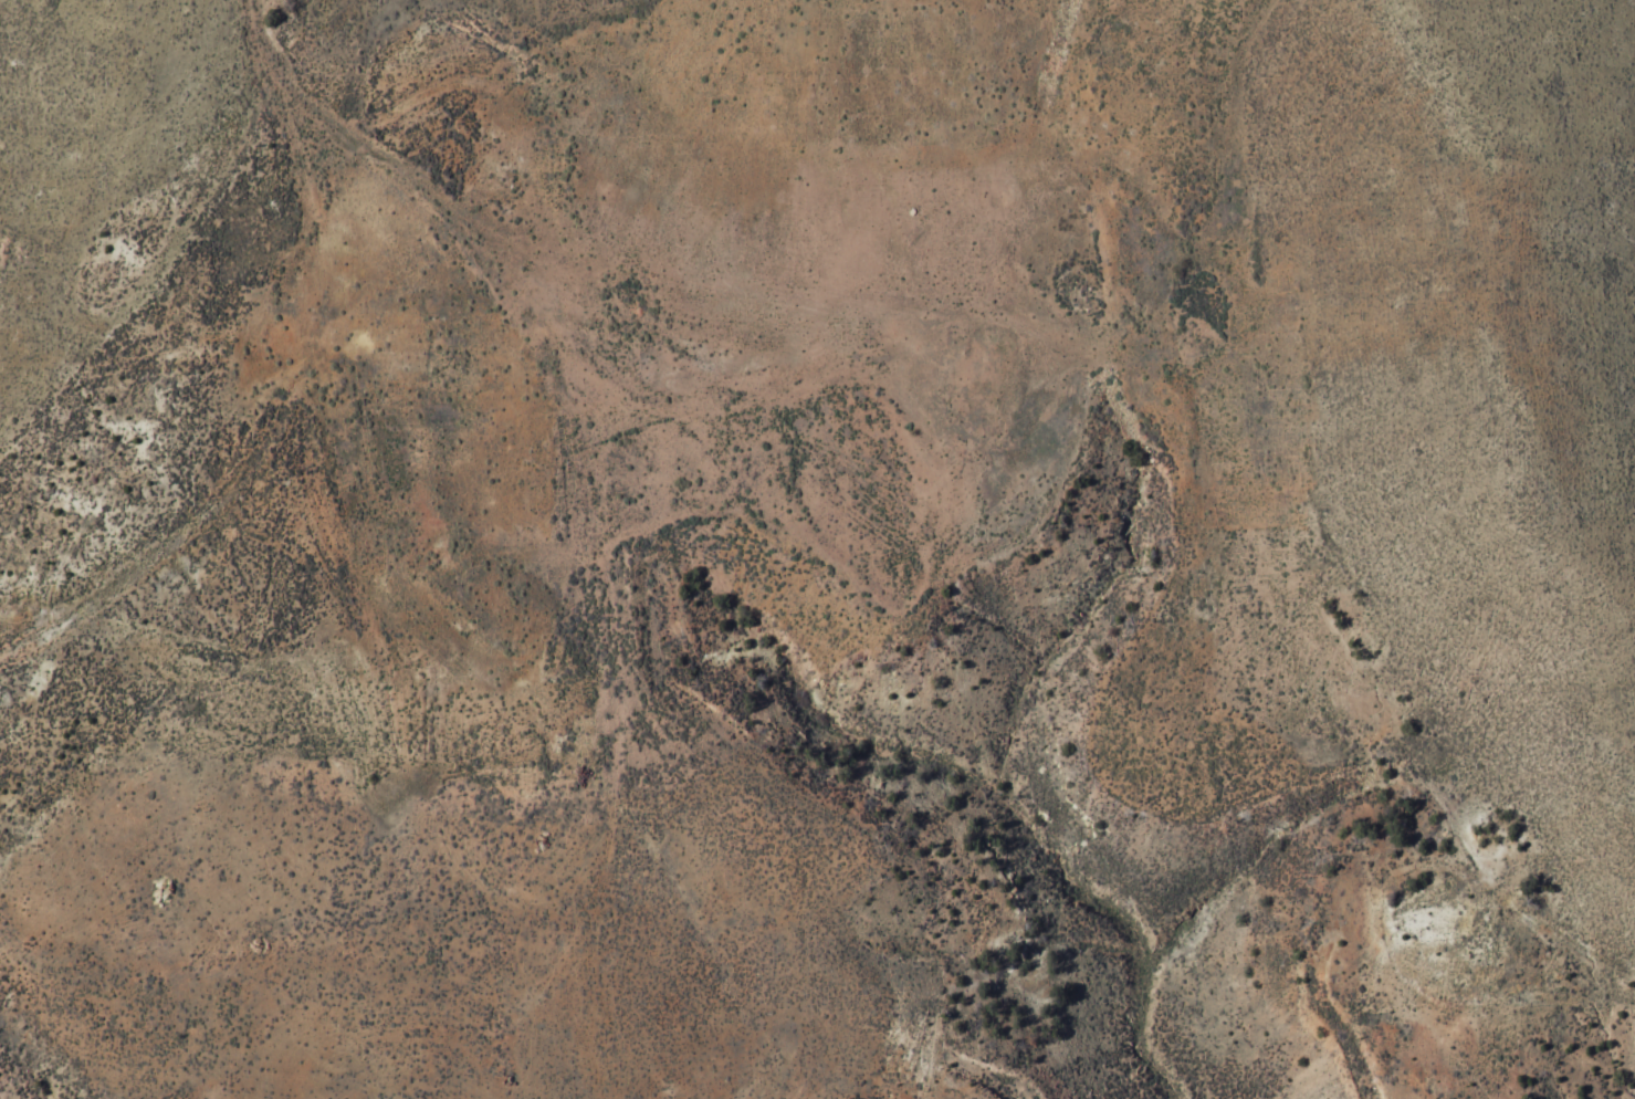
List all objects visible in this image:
road: (379, 166)
building: (473, 416)

